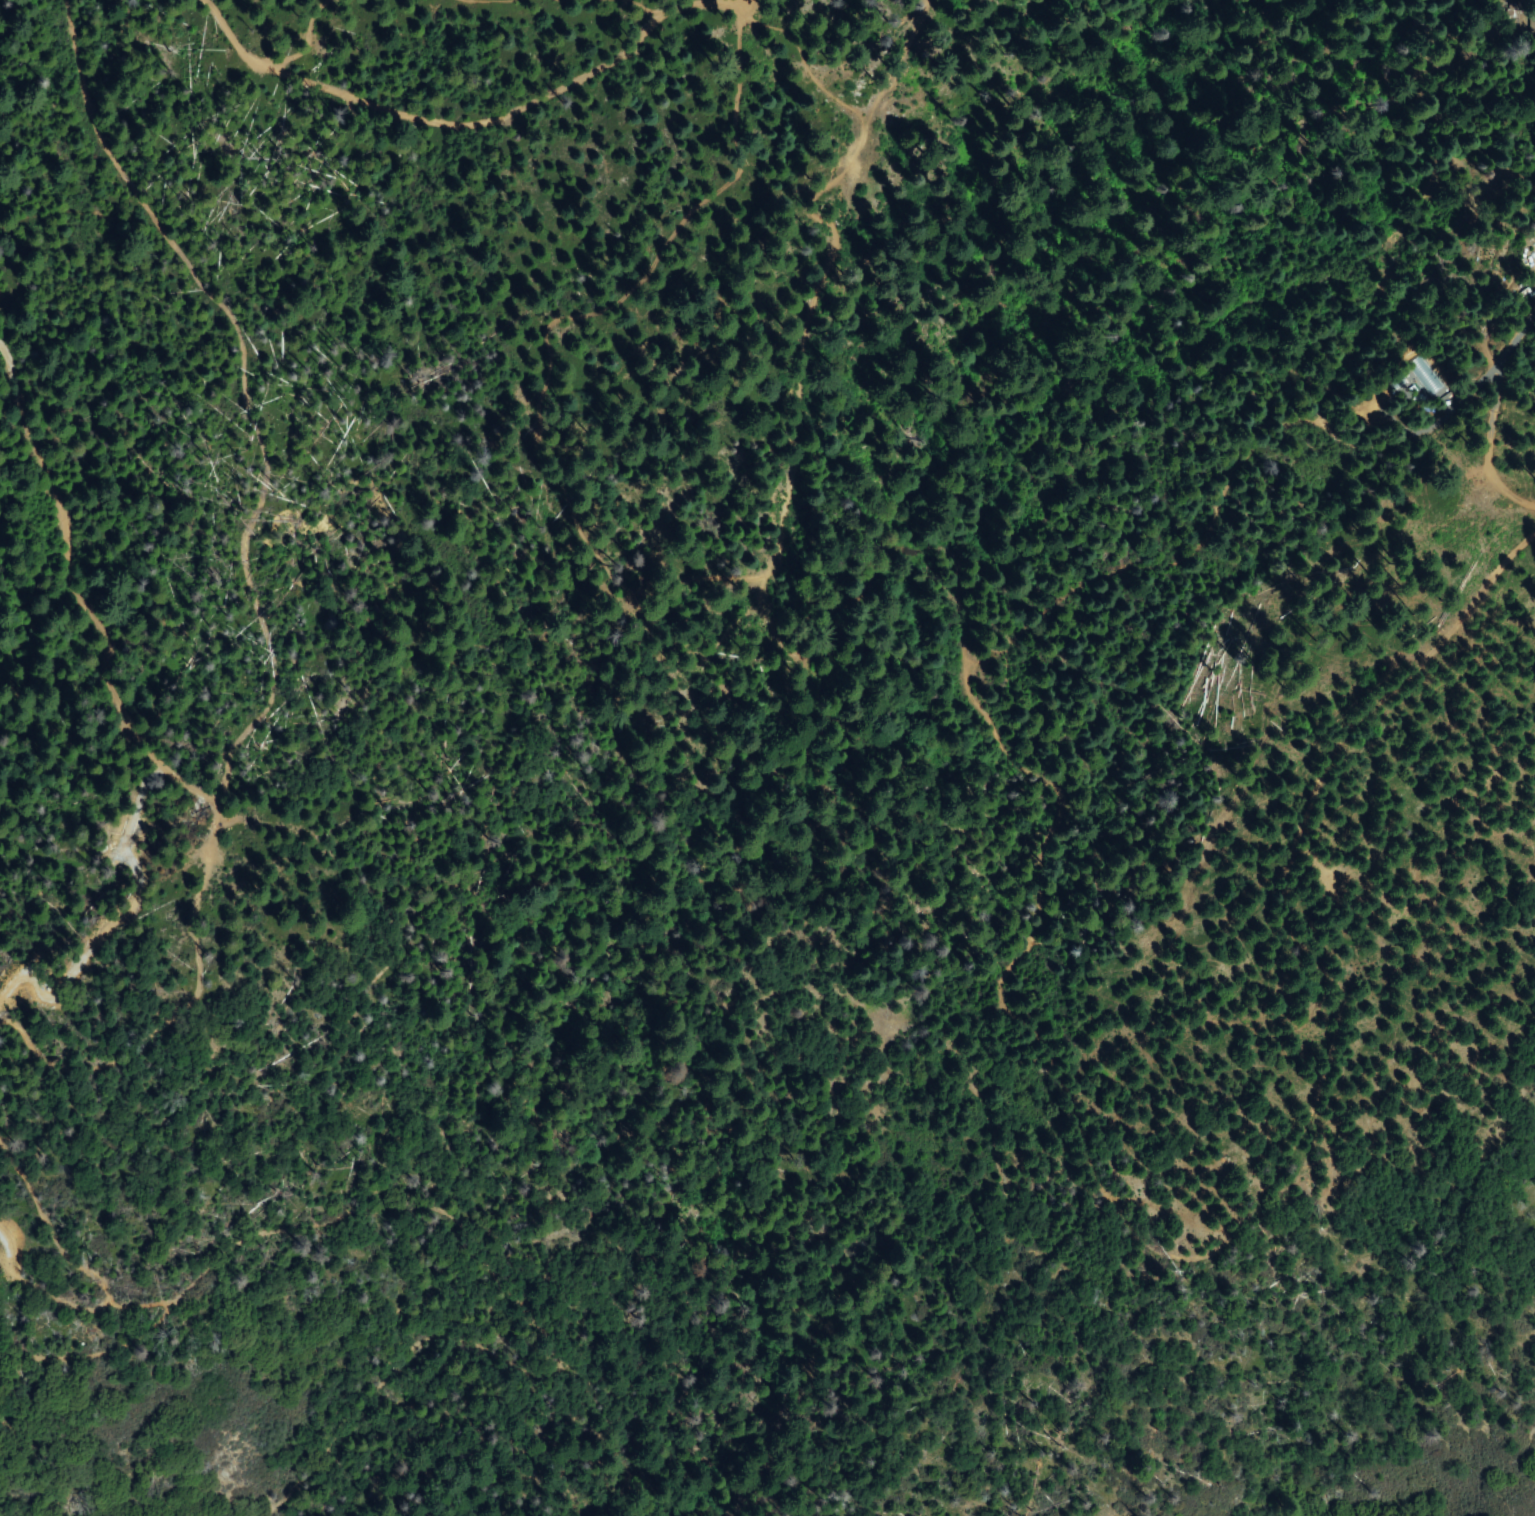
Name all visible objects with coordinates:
building: (1534, 23)
road: (447, 118)
road: (810, 276)
road: (245, 589)
road: (78, 605)
road: (434, 1199)
road: (47, 1222)

